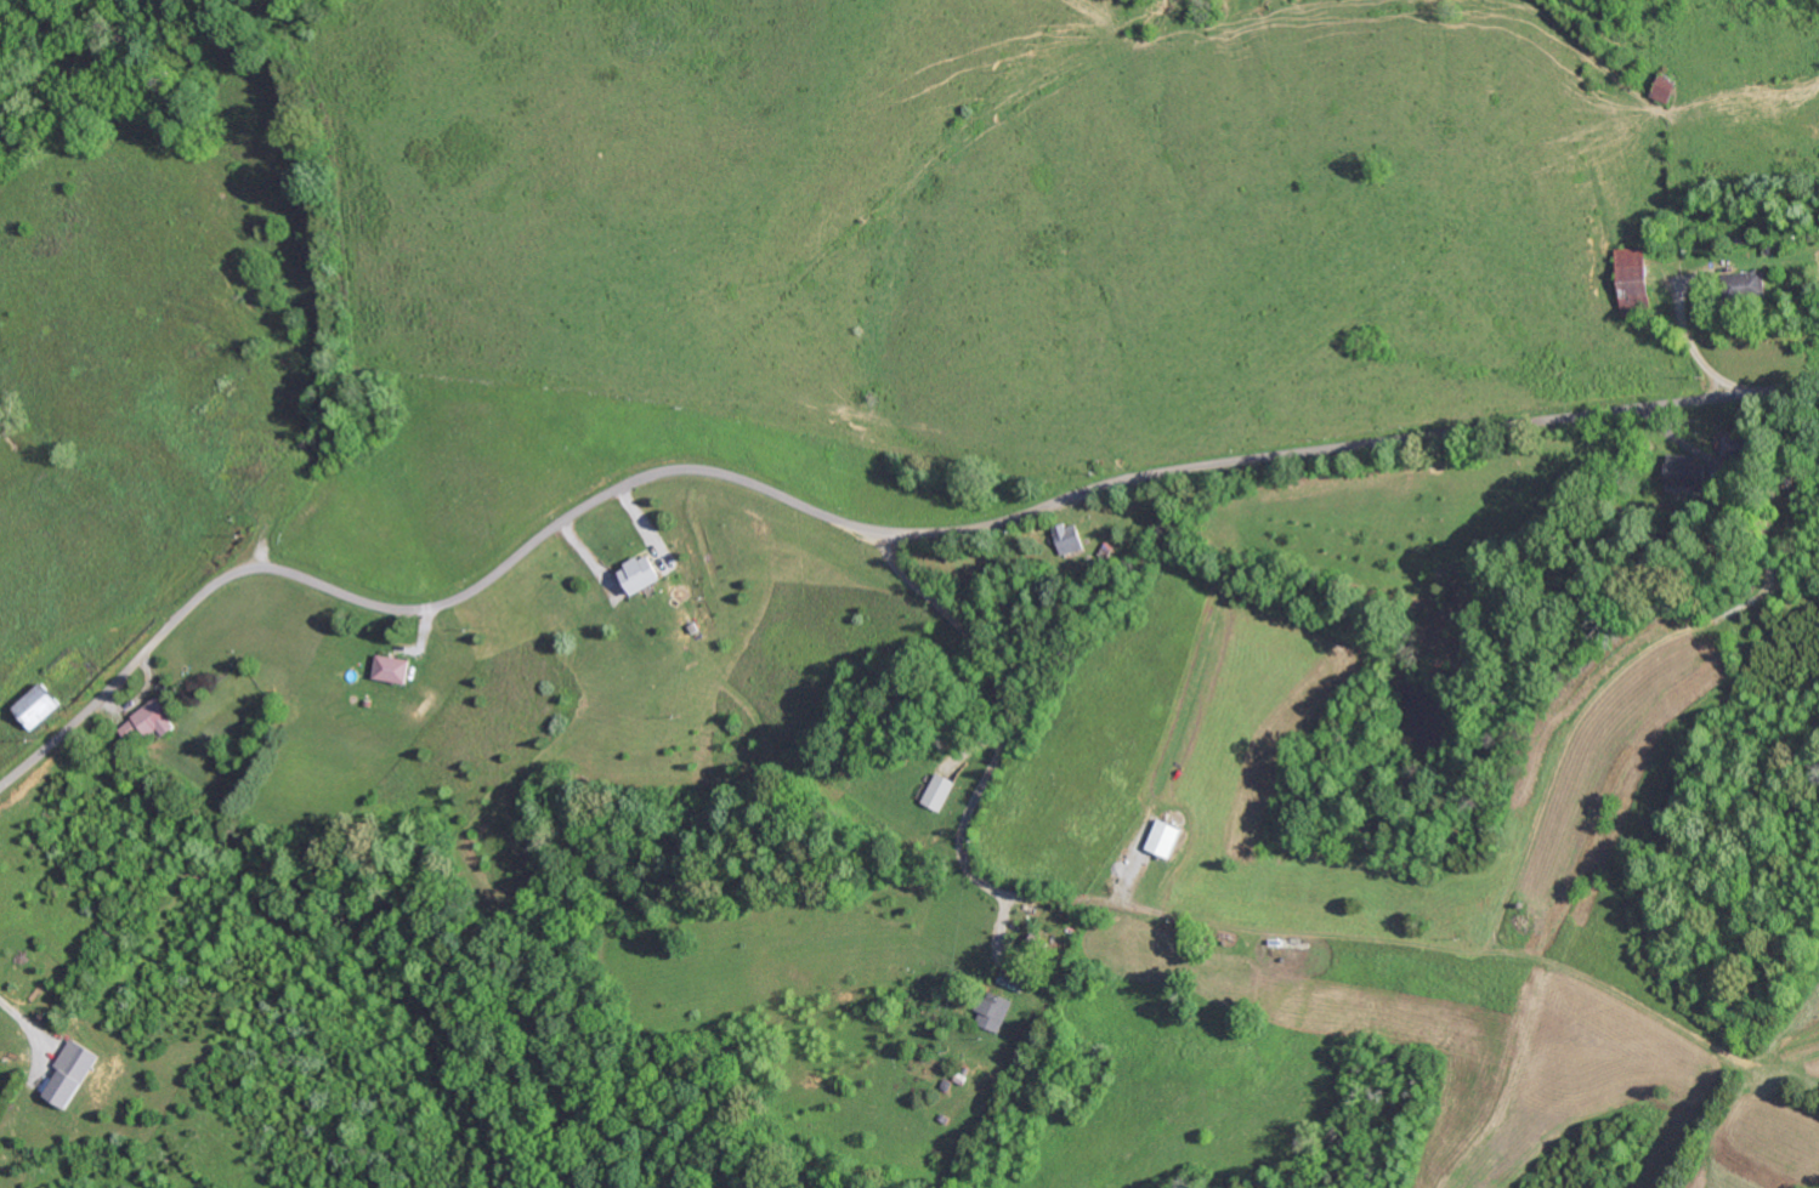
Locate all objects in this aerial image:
building: (1626, 274)
road: (848, 523)
building: (1075, 539)
building: (644, 573)
building: (397, 669)
building: (46, 706)
building: (157, 720)
building: (940, 791)
building: (1168, 839)
building: (994, 1011)
building: (76, 1070)

